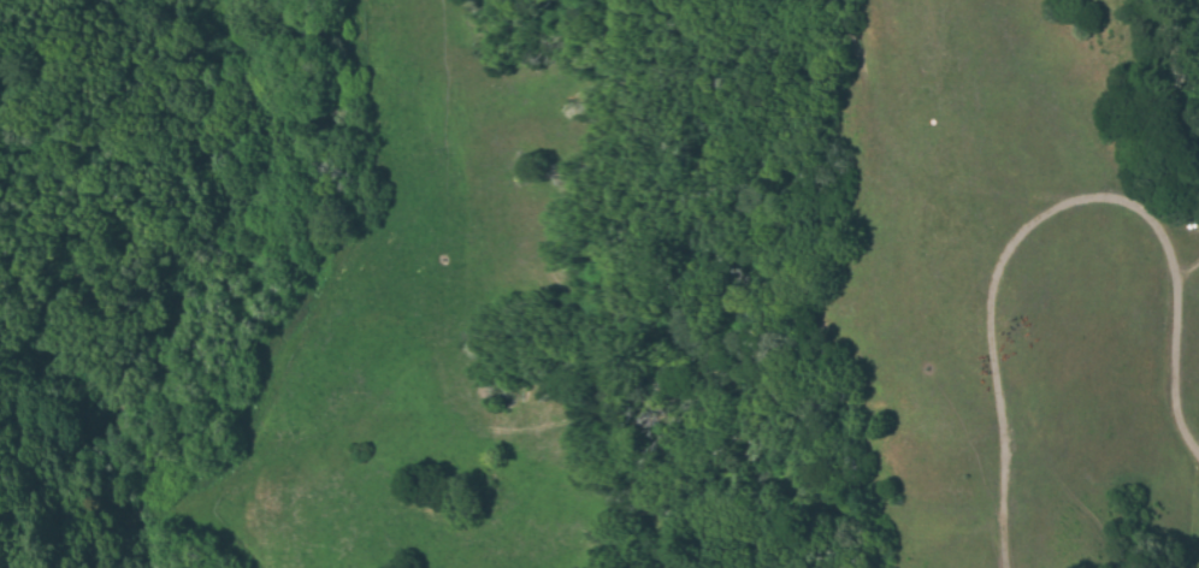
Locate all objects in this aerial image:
road: (1035, 218)

